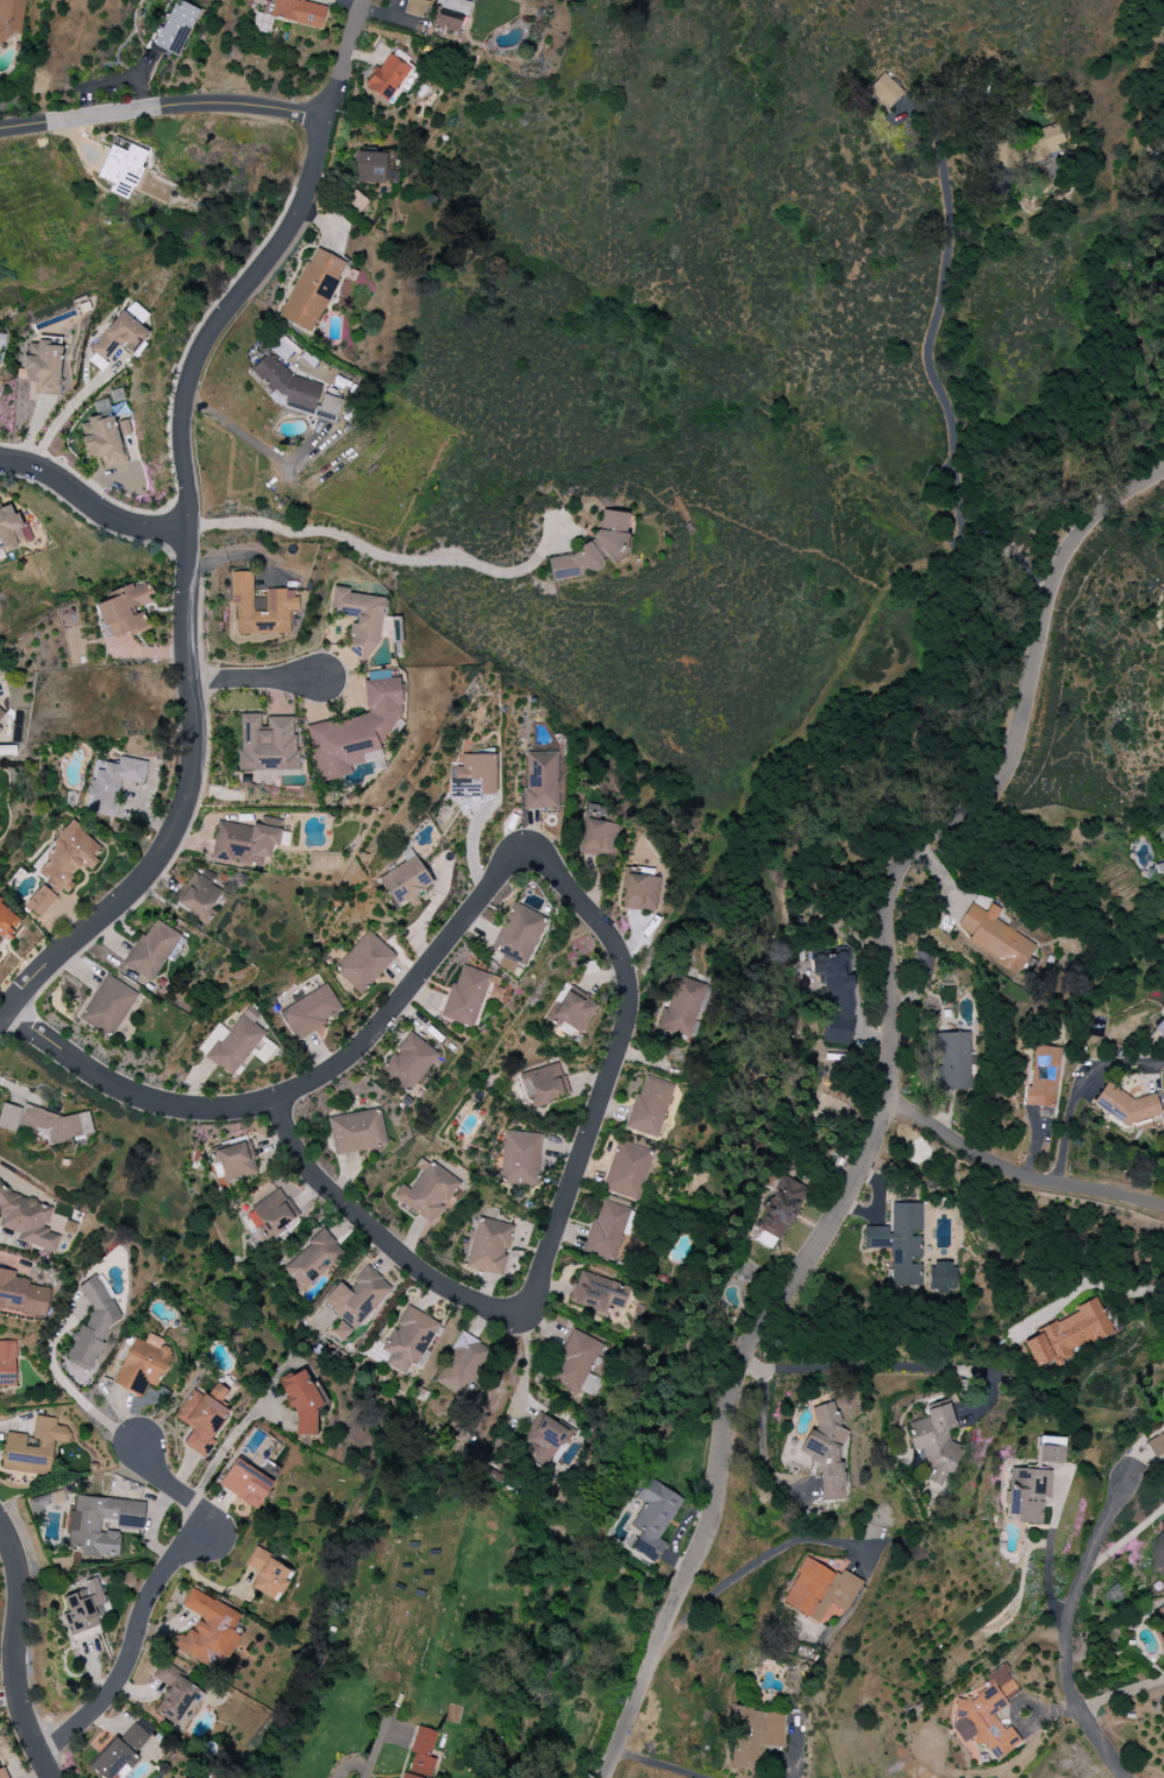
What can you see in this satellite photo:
building: (415, 7)
building: (11, 18)
building: (176, 27)
building: (387, 77)
building: (884, 90)
road: (163, 106)
building: (1050, 137)
building: (369, 167)
building: (121, 169)
building: (312, 289)
building: (124, 332)
building: (94, 359)
building: (43, 370)
building: (286, 382)
road: (68, 413)
road: (950, 418)
building: (101, 436)
road: (262, 451)
road: (93, 503)
road: (193, 524)
building: (11, 528)
building: (594, 547)
road: (383, 555)
building: (281, 596)
building: (258, 601)
building: (124, 609)
building: (359, 620)
road: (255, 678)
building: (1, 713)
building: (0, 728)
building: (356, 731)
building: (265, 744)
building: (474, 778)
building: (540, 781)
building: (112, 784)
building: (597, 832)
building: (243, 844)
building: (405, 853)
building: (68, 858)
building: (1159, 871)
building: (405, 883)
building: (643, 893)
building: (198, 896)
building: (39, 901)
building: (7, 921)
building: (518, 934)
building: (995, 935)
building: (150, 950)
building: (364, 962)
building: (506, 965)
building: (469, 995)
building: (836, 996)
building: (107, 1006)
building: (682, 1008)
building: (309, 1012)
building: (572, 1013)
building: (1159, 1027)
building: (234, 1043)
road: (356, 1045)
building: (408, 1062)
building: (953, 1062)
building: (544, 1084)
building: (1037, 1087)
road: (1081, 1089)
road: (884, 1102)
building: (826, 1106)
building: (649, 1107)
building: (1126, 1107)
building: (8, 1116)
building: (356, 1132)
building: (520, 1158)
building: (236, 1162)
building: (626, 1170)
road: (1016, 1172)
building: (427, 1192)
building: (778, 1213)
building: (271, 1214)
building: (26, 1220)
building: (61, 1227)
building: (606, 1229)
building: (899, 1244)
building: (489, 1247)
building: (314, 1259)
building: (941, 1277)
road: (1088, 1284)
road: (530, 1292)
building: (599, 1292)
building: (21, 1295)
building: (357, 1297)
building: (93, 1323)
building: (1066, 1334)
building: (408, 1339)
building: (577, 1360)
building: (7, 1363)
building: (140, 1365)
building: (462, 1365)
road: (888, 1365)
road: (526, 1370)
road: (76, 1394)
building: (301, 1401)
building: (202, 1417)
building: (545, 1439)
road: (761, 1440)
building: (1050, 1441)
building: (934, 1442)
building: (1157, 1442)
building: (33, 1447)
building: (826, 1450)
road: (226, 1451)
building: (1049, 1454)
building: (245, 1484)
building: (1027, 1494)
building: (44, 1503)
building: (653, 1517)
building: (83, 1528)
building: (1158, 1547)
road: (751, 1567)
building: (268, 1574)
building: (820, 1592)
road: (154, 1597)
building: (83, 1608)
building: (1158, 1620)
building: (207, 1630)
road: (1065, 1630)
road: (15, 1652)
road: (1122, 1695)
building: (175, 1696)
building: (987, 1714)
building: (756, 1735)
building: (120, 1752)
building: (420, 1754)
road: (659, 1764)
road: (351, 1765)
building: (2, 1773)

